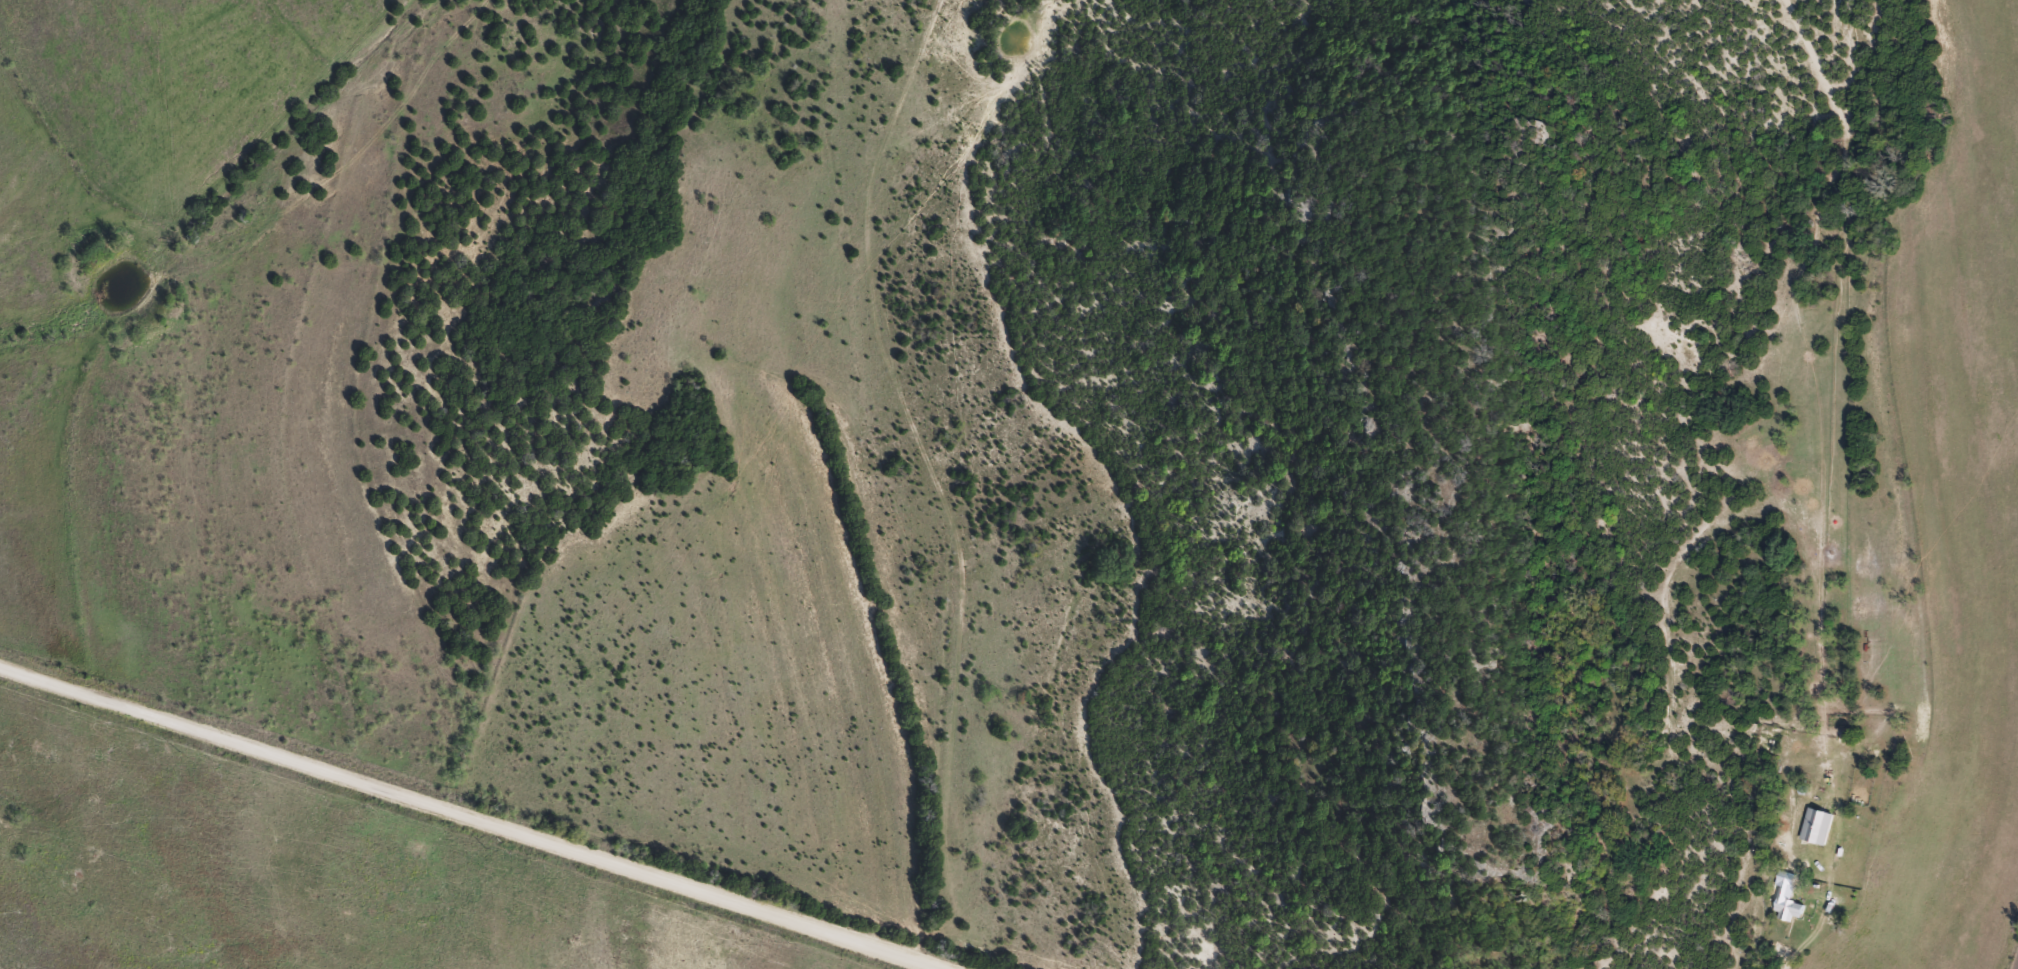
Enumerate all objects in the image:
road: (476, 818)
building: (1817, 825)
building: (1789, 909)

